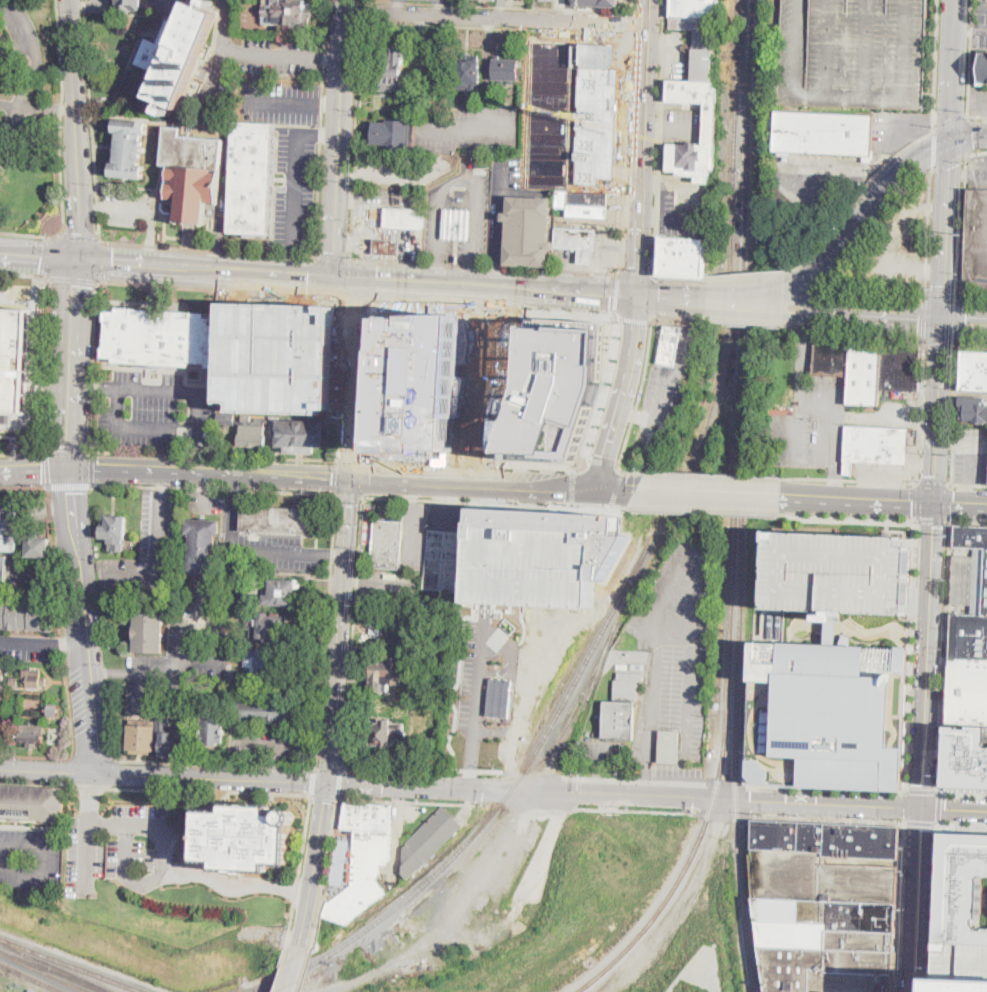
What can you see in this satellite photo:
road: (10, 0)
road: (439, 0)
parking lot: (443, 0)
building: (493, 0)
road: (163, 2)
building: (600, 2)
road: (83, 5)
building: (129, 5)
road: (505, 6)
road: (632, 6)
road: (986, 6)
road: (397, 7)
road: (439, 8)
road: (360, 10)
building: (288, 13)
road: (494, 18)
road: (632, 22)
parking lot: (981, 22)
road: (227, 24)
parking lot: (21, 25)
road: (422, 26)
road: (496, 27)
road: (971, 28)
building: (698, 31)
road: (954, 39)
road: (832, 49)
road: (870, 50)
road: (249, 51)
road: (36, 52)
building: (178, 53)
building: (855, 54)
parking garage: (855, 54)
parking lot: (276, 55)
road: (329, 58)
road: (968, 58)
road: (661, 60)
road: (60, 63)
road: (802, 63)
road: (934, 65)
building: (391, 67)
building: (983, 68)
building: (4, 69)
building: (506, 70)
building: (467, 72)
road: (427, 73)
road: (488, 73)
parking lot: (428, 74)
railway: (744, 82)
railway: (750, 82)
road: (908, 90)
parking lot: (271, 99)
road: (277, 100)
parking lot: (978, 100)
road: (11, 103)
road: (328, 103)
road: (981, 103)
road: (48, 106)
power tower: (966, 110)
road: (951, 111)
building: (553, 114)
parking lot: (553, 114)
building: (596, 115)
road: (977, 117)
traffic signals: (951, 118)
road: (11, 119)
road: (651, 121)
road: (91, 122)
road: (674, 122)
parking lot: (685, 122)
building: (711, 123)
road: (950, 124)
parking lot: (473, 127)
road: (320, 128)
road: (468, 128)
road: (75, 129)
parking lot: (899, 130)
road: (327, 132)
building: (392, 133)
building: (824, 134)
road: (967, 136)
road: (967, 136)
traffic signals: (974, 136)
road: (337, 139)
road: (356, 139)
road: (643, 147)
building: (129, 148)
road: (934, 151)
road: (658, 152)
road: (976, 152)
road: (625, 153)
road: (949, 162)
parking lot: (406, 166)
traffic signals: (947, 168)
building: (193, 169)
road: (350, 173)
road: (407, 175)
building: (250, 178)
road: (463, 178)
parking lot: (814, 179)
road: (946, 180)
road: (61, 181)
road: (294, 181)
road: (649, 183)
road: (681, 185)
parking lot: (295, 187)
road: (859, 196)
road: (656, 200)
parking lot: (693, 201)
building: (584, 204)
road: (143, 207)
road: (498, 207)
road: (868, 212)
road: (648, 215)
road: (679, 217)
building: (404, 218)
parking lot: (681, 218)
building: (457, 224)
road: (963, 226)
building: (528, 231)
road: (929, 233)
road: (28, 234)
road: (77, 236)
building: (976, 240)
building: (578, 242)
building: (387, 246)
road: (653, 246)
parking lot: (894, 247)
road: (209, 250)
traffic signals: (335, 251)
road: (39, 254)
road: (47, 255)
building: (683, 256)
road: (333, 257)
parking lot: (606, 257)
traffic signals: (78, 259)
road: (107, 261)
road: (291, 262)
road: (483, 265)
road: (942, 267)
road: (210, 269)
road: (634, 270)
road: (25, 272)
road: (438, 272)
road: (471, 274)
road: (495, 274)
road: (312, 276)
traffic signals: (308, 277)
road: (75, 278)
road: (362, 278)
road: (681, 278)
railway: (744, 279)
road: (751, 279)
traffic signals: (377, 280)
parking lot: (186, 281)
road: (490, 287)
road: (222, 288)
road: (942, 289)
road: (878, 292)
road: (617, 293)
traffic signals: (638, 295)
road: (654, 297)
road: (672, 297)
road: (974, 297)
road: (352, 298)
parking lot: (467, 299)
road: (750, 299)
road: (807, 301)
building: (177, 305)
traffic signals: (353, 306)
road: (493, 307)
road: (748, 309)
road: (884, 312)
road: (809, 313)
road: (838, 315)
road: (923, 317)
road: (679, 318)
traffic signals: (943, 318)
road: (636, 319)
road: (964, 320)
road: (960, 321)
road: (748, 322)
road: (857, 331)
building: (159, 337)
building: (510, 339)
road: (634, 341)
road: (941, 344)
building: (670, 345)
road: (806, 345)
road: (972, 345)
building: (276, 356)
parking lot: (276, 356)
building: (833, 356)
road: (93, 362)
road: (70, 363)
building: (901, 365)
building: (975, 371)
building: (865, 372)
building: (17, 374)
road: (352, 376)
road: (339, 378)
road: (365, 379)
building: (418, 382)
road: (93, 387)
power tower: (953, 387)
building: (728, 391)
building: (558, 393)
road: (606, 394)
road: (640, 394)
road: (963, 394)
road: (817, 401)
parking lot: (900, 405)
parking lot: (157, 407)
building: (973, 409)
road: (920, 411)
road: (939, 411)
road: (954, 414)
building: (247, 418)
road: (893, 422)
road: (199, 426)
parking lot: (810, 426)
road: (795, 427)
road: (820, 433)
building: (252, 434)
road: (957, 434)
building: (299, 435)
road: (612, 437)
building: (876, 446)
road: (199, 449)
road: (69, 450)
road: (22, 451)
road: (215, 455)
parking lot: (971, 455)
road: (351, 459)
road: (604, 459)
road: (974, 459)
road: (472, 464)
road: (92, 467)
road: (46, 468)
traffic signals: (67, 469)
road: (33, 470)
road: (633, 472)
road: (208, 473)
road: (337, 475)
road: (714, 475)
road: (363, 476)
traffic signals: (351, 477)
road: (849, 481)
road: (474, 482)
road: (232, 483)
road: (934, 483)
road: (70, 484)
road: (834, 484)
road: (969, 485)
road: (24, 486)
road: (573, 486)
road: (212, 487)
traffic signals: (599, 487)
road: (614, 488)
road: (618, 488)
road: (204, 490)
road: (413, 491)
road: (709, 492)
road: (349, 493)
road: (972, 494)
road: (490, 495)
road: (858, 500)
road: (495, 501)
road: (917, 501)
road: (950, 502)
traffic signals: (936, 504)
road: (961, 504)
road: (704, 511)
road: (490, 517)
road: (848, 518)
building: (279, 520)
road: (933, 520)
road: (968, 521)
road: (230, 522)
building: (562, 528)
building: (8, 530)
building: (115, 531)
power tower: (947, 531)
road: (411, 534)
building: (970, 536)
building: (38, 545)
building: (387, 545)
building: (202, 547)
parking lot: (146, 548)
road: (157, 548)
road: (277, 551)
road: (335, 553)
road: (689, 556)
building: (443, 558)
road: (53, 561)
building: (532, 566)
parking garage: (532, 566)
building: (37, 569)
railway: (741, 569)
railway: (635, 571)
parking garage: (838, 572)
building: (837, 573)
parking lot: (837, 573)
building: (235, 579)
road: (394, 581)
building: (282, 592)
building: (26, 616)
road: (86, 621)
road: (799, 622)
building: (267, 627)
road: (325, 630)
road: (353, 630)
road: (339, 631)
road: (875, 631)
building: (148, 632)
parking lot: (672, 648)
road: (61, 649)
road: (45, 651)
road: (929, 654)
road: (911, 656)
road: (944, 657)
building: (267, 662)
building: (623, 665)
building: (1, 666)
building: (639, 666)
building: (968, 669)
road: (170, 671)
building: (387, 675)
railway: (592, 675)
building: (34, 678)
parking lot: (486, 678)
building: (13, 680)
road: (511, 686)
railway: (592, 687)
road: (478, 694)
building: (0, 697)
building: (621, 707)
building: (53, 710)
building: (271, 711)
building: (827, 713)
railway: (727, 718)
building: (213, 727)
building: (32, 734)
building: (55, 735)
building: (172, 736)
building: (385, 736)
building: (141, 737)
road: (73, 744)
building: (668, 746)
road: (278, 748)
road: (92, 757)
building: (966, 758)
road: (214, 763)
road: (328, 767)
road: (421, 769)
parking lot: (676, 771)
road: (45, 772)
road: (534, 774)
road: (644, 777)
road: (209, 779)
road: (311, 780)
road: (339, 781)
road: (635, 781)
traffic signals: (327, 785)
road: (726, 785)
road: (827, 789)
road: (625, 791)
road: (922, 792)
road: (963, 794)
road: (323, 795)
road: (206, 797)
road: (411, 799)
building: (32, 803)
road: (905, 807)
road: (954, 807)
road: (624, 809)
road: (940, 809)
road: (724, 814)
road: (830, 820)
road: (920, 823)
road: (961, 825)
road: (88, 832)
building: (244, 838)
building: (429, 841)
road: (302, 842)
parking lot: (121, 847)
parking lot: (29, 858)
road: (162, 859)
building: (364, 860)
building: (340, 861)
road: (496, 861)
road: (45, 862)
road: (313, 864)
railway: (739, 868)
road: (323, 872)
parking lot: (483, 884)
road: (225, 889)
road: (919, 898)
road: (986, 899)
building: (825, 906)
road: (901, 907)
road: (935, 908)
building: (963, 913)
road: (291, 917)
railway: (71, 964)
railway: (54, 967)
parking garage: (962, 967)
road: (281, 968)
road: (294, 968)
road: (305, 970)
railway: (53, 971)
railway: (42, 972)
railway: (31, 977)

